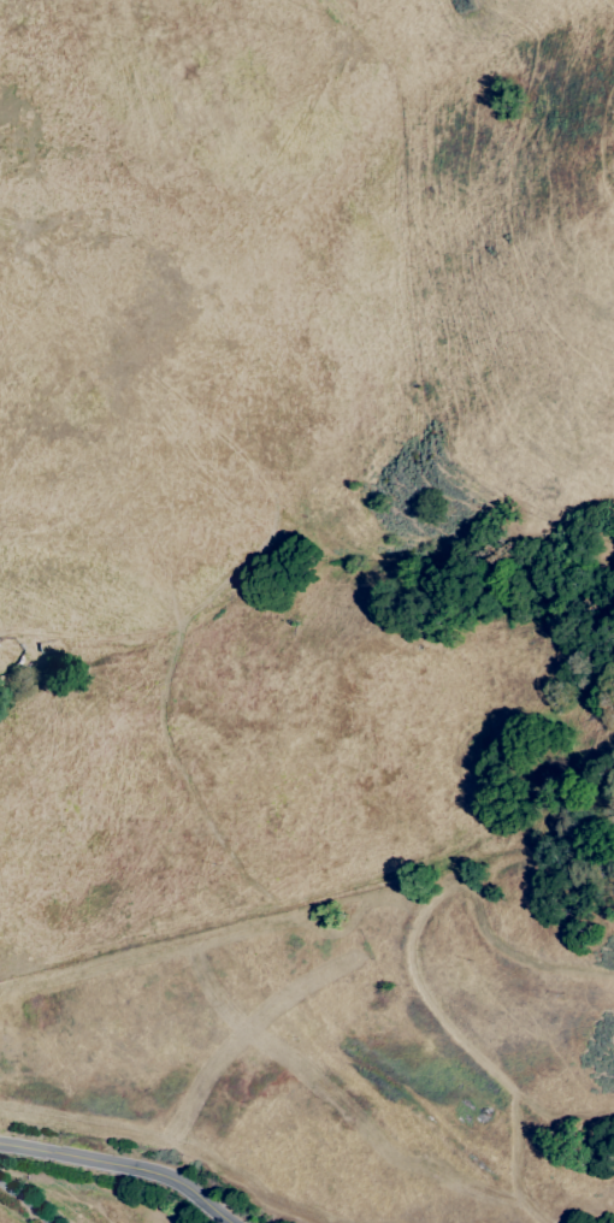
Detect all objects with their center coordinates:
road: (120, 1166)
road: (24, 1203)

